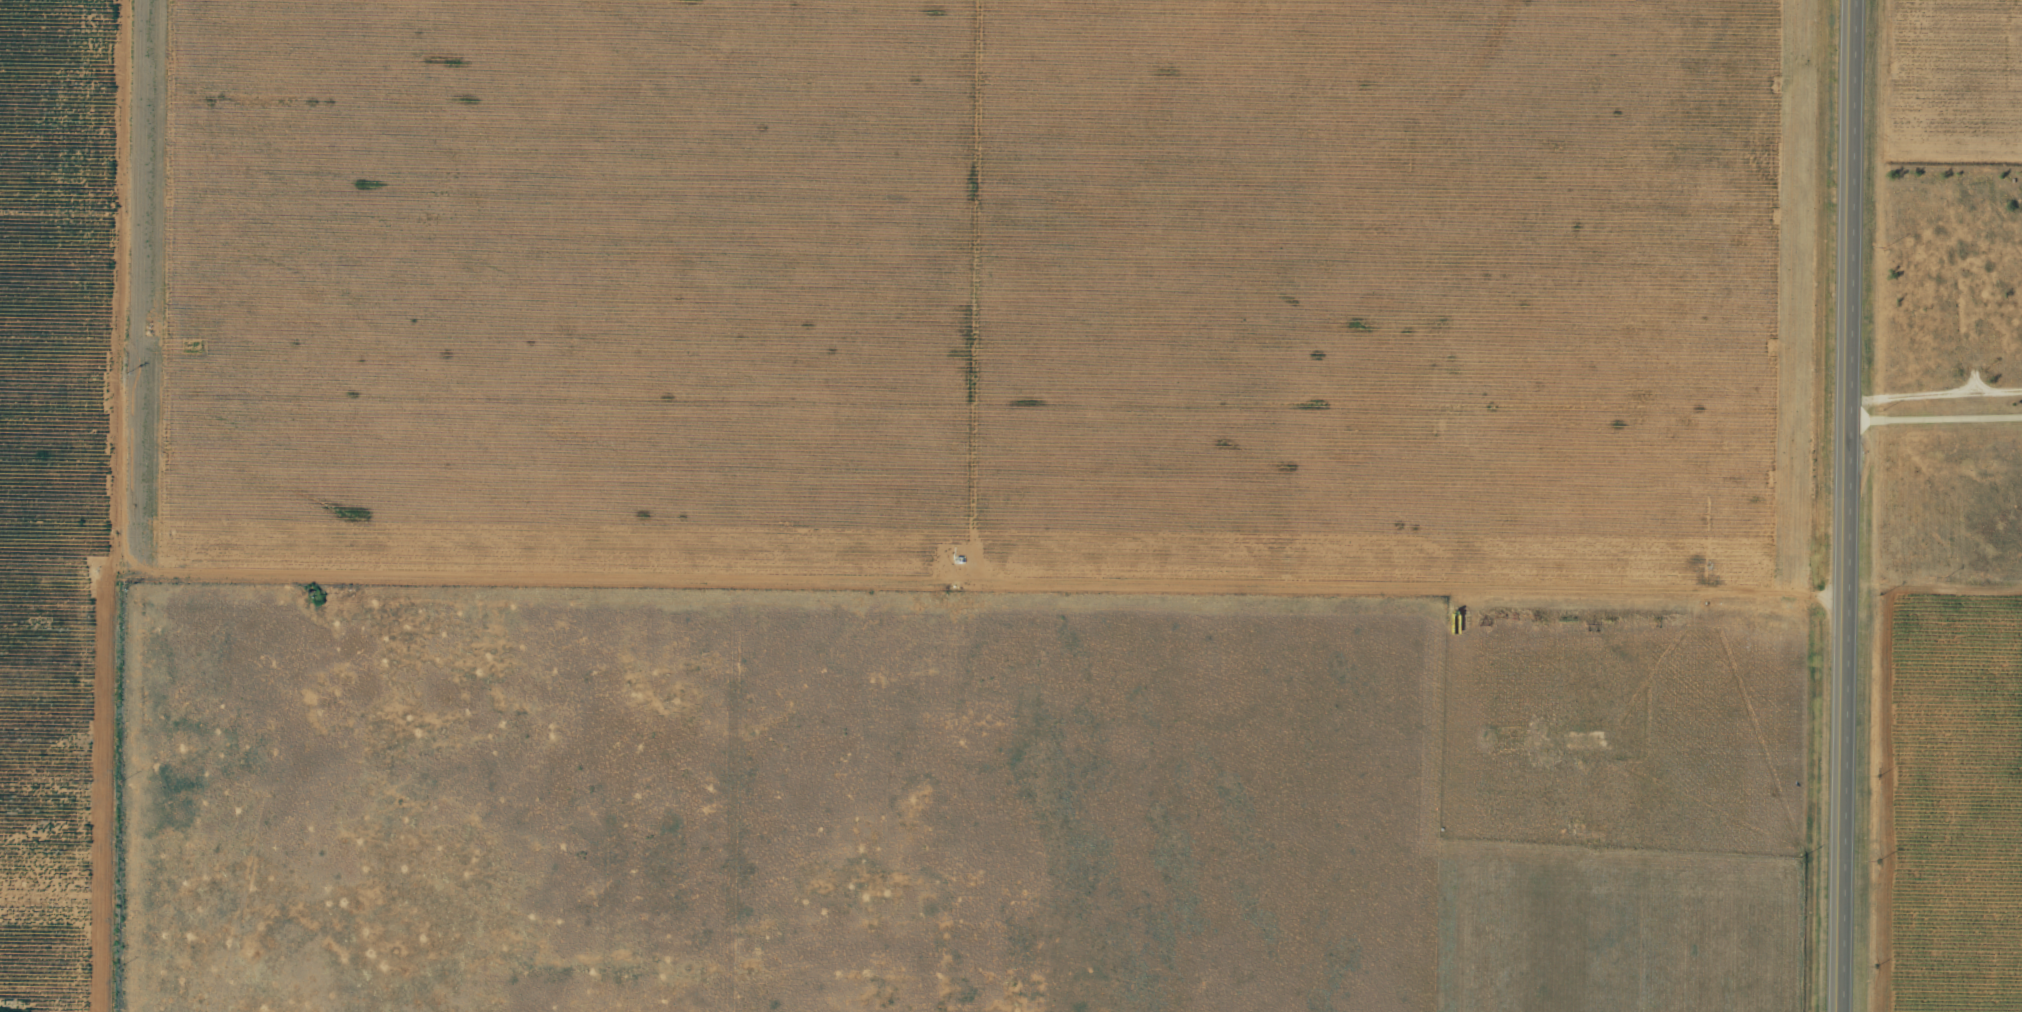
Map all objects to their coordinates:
road: (1939, 427)
road: (131, 505)
road: (1855, 505)
road: (1010, 566)

